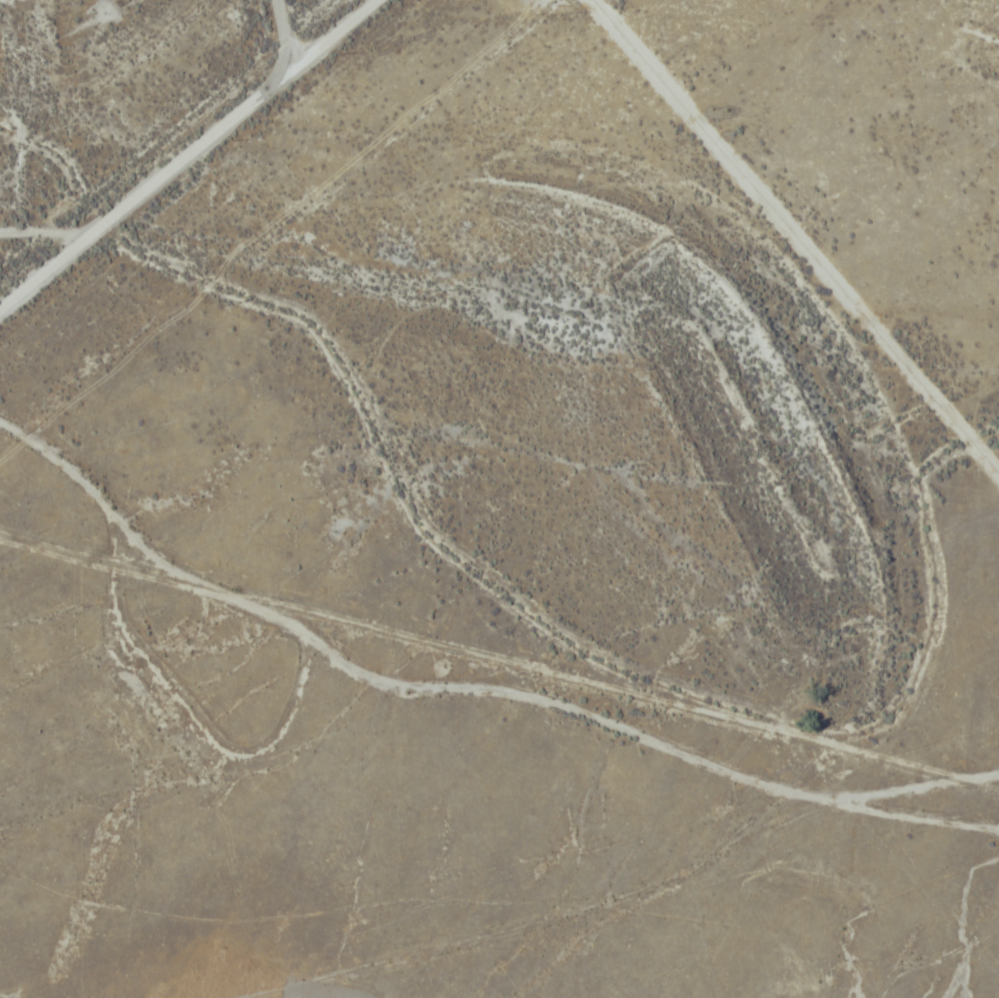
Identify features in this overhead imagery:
road: (170, 167)

